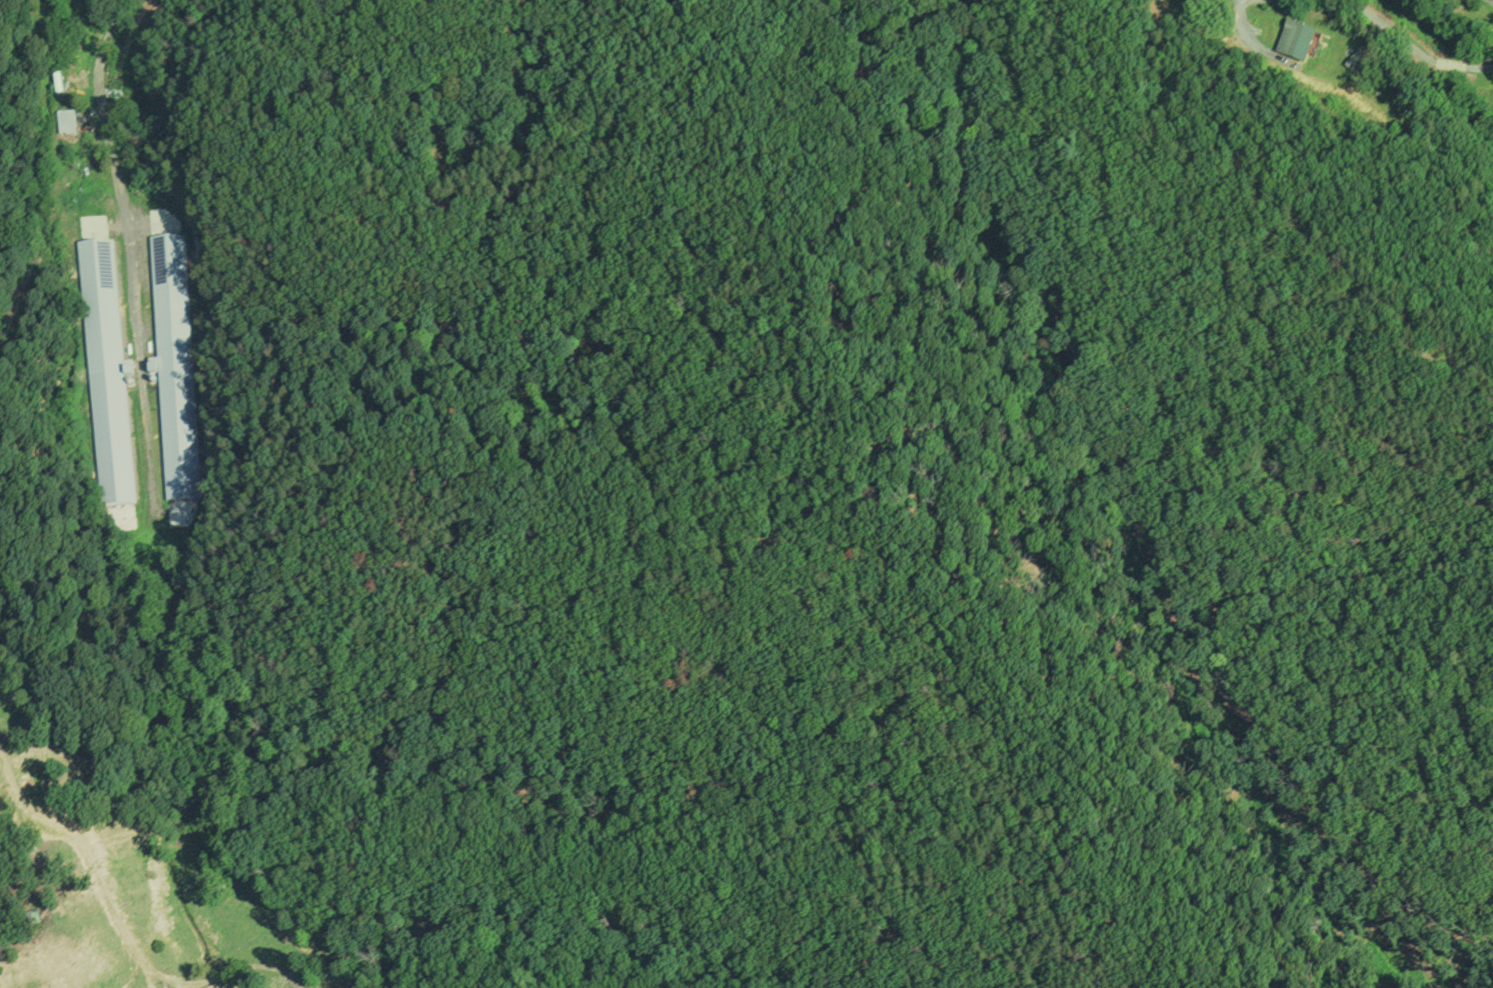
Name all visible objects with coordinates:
building: (1295, 40)
building: (65, 121)
road: (129, 239)
building: (174, 366)
building: (105, 374)

